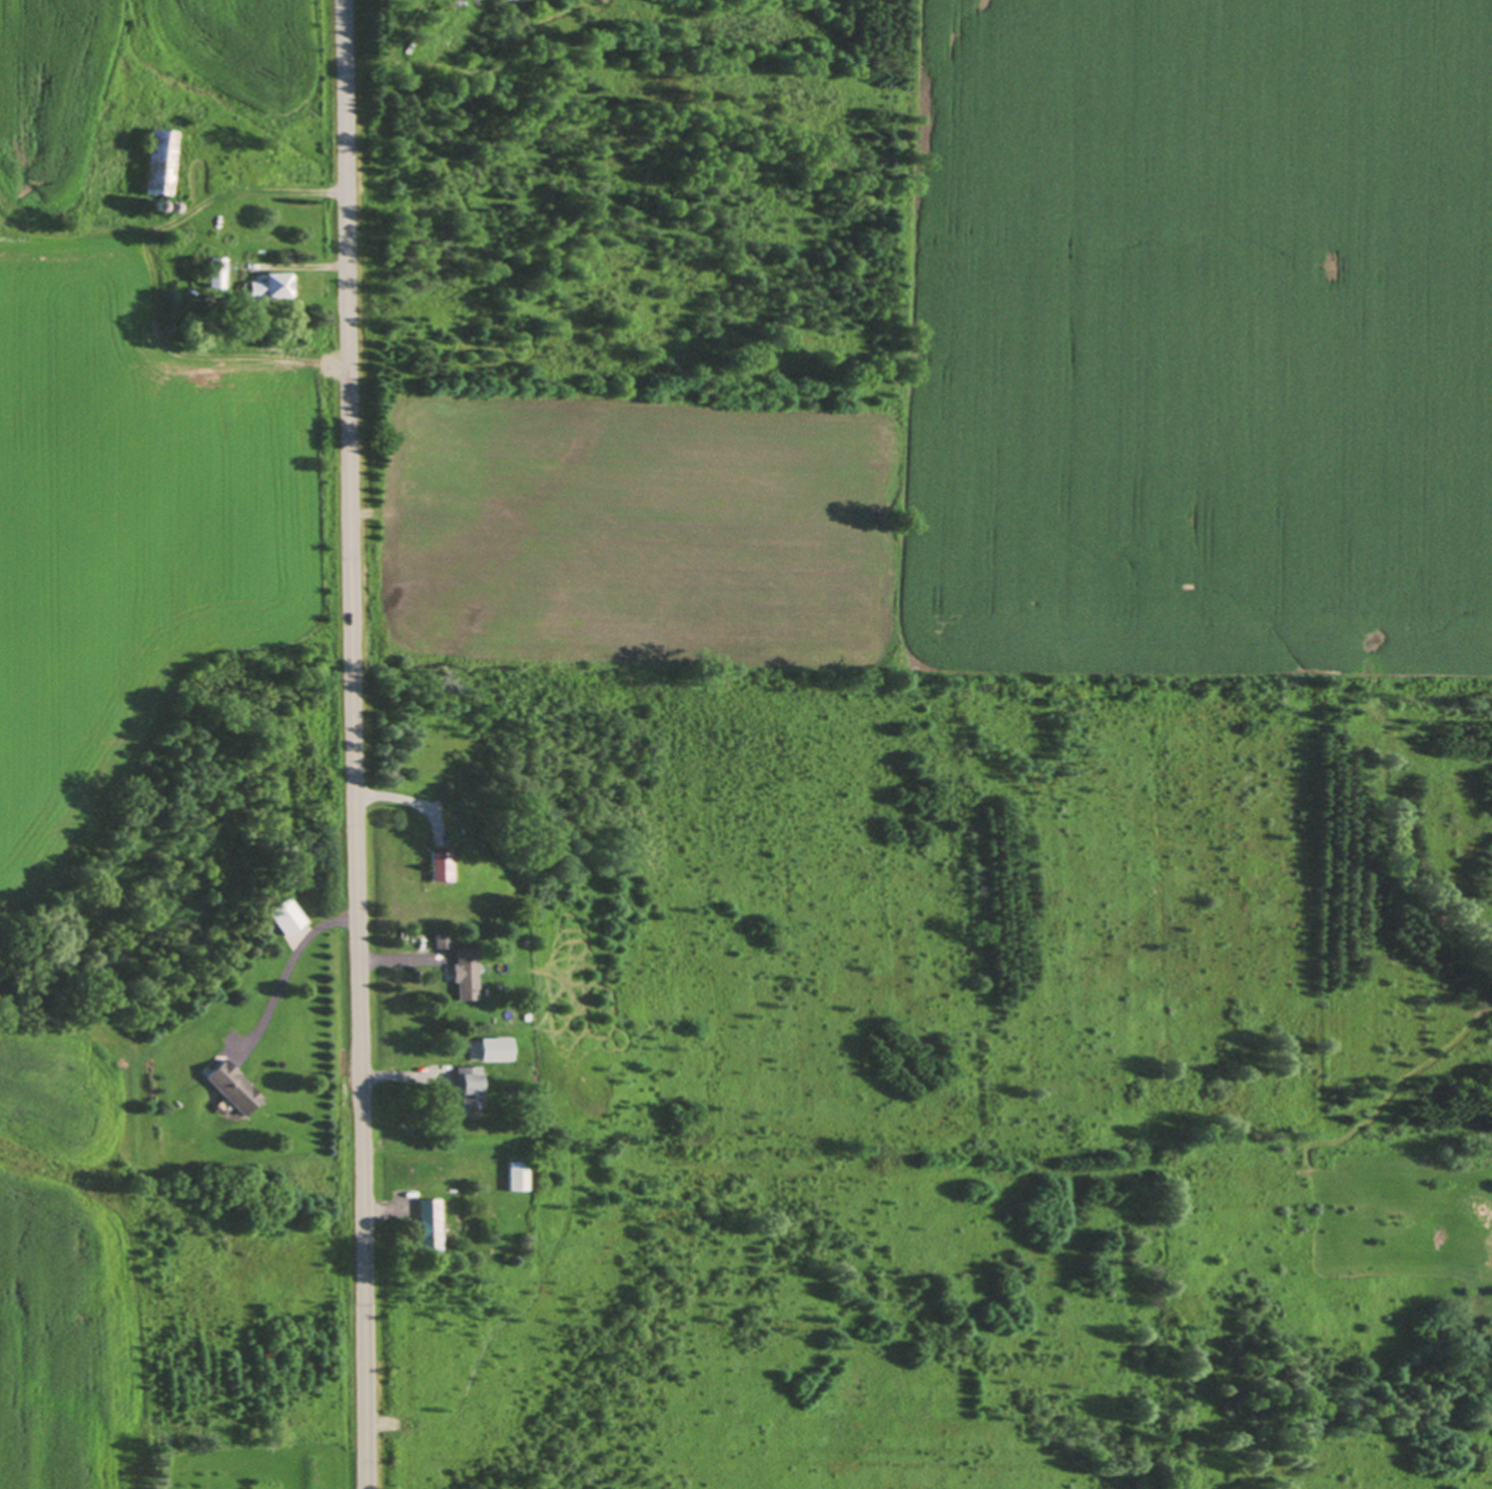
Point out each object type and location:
building: (158, 160)
building: (154, 204)
building: (166, 206)
building: (214, 271)
building: (268, 285)
road: (350, 744)
building: (439, 863)
building: (282, 917)
building: (438, 940)
building: (460, 973)
building: (522, 1002)
building: (491, 1050)
building: (466, 1085)
building: (228, 1088)
building: (515, 1175)
building: (426, 1224)

